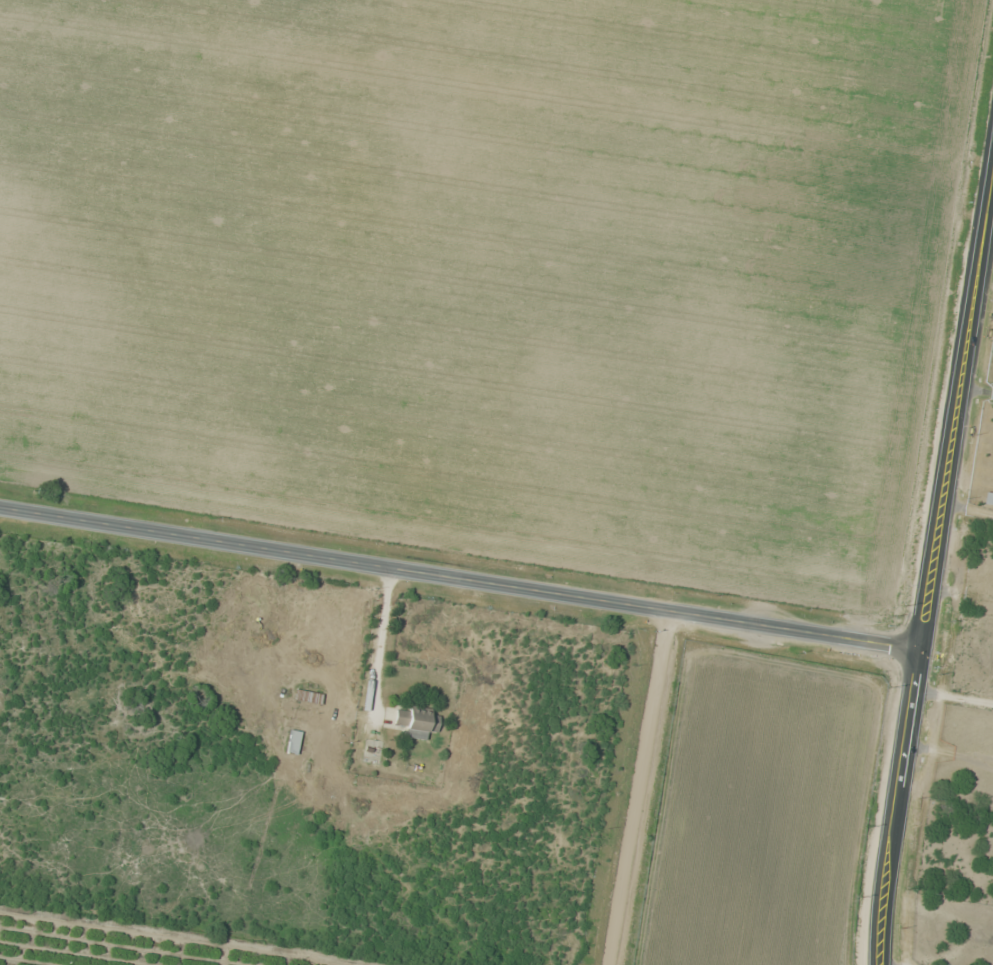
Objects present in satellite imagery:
road: (932, 565)
road: (459, 579)
building: (309, 697)
building: (415, 722)
building: (295, 742)
road: (638, 788)
road: (880, 960)

